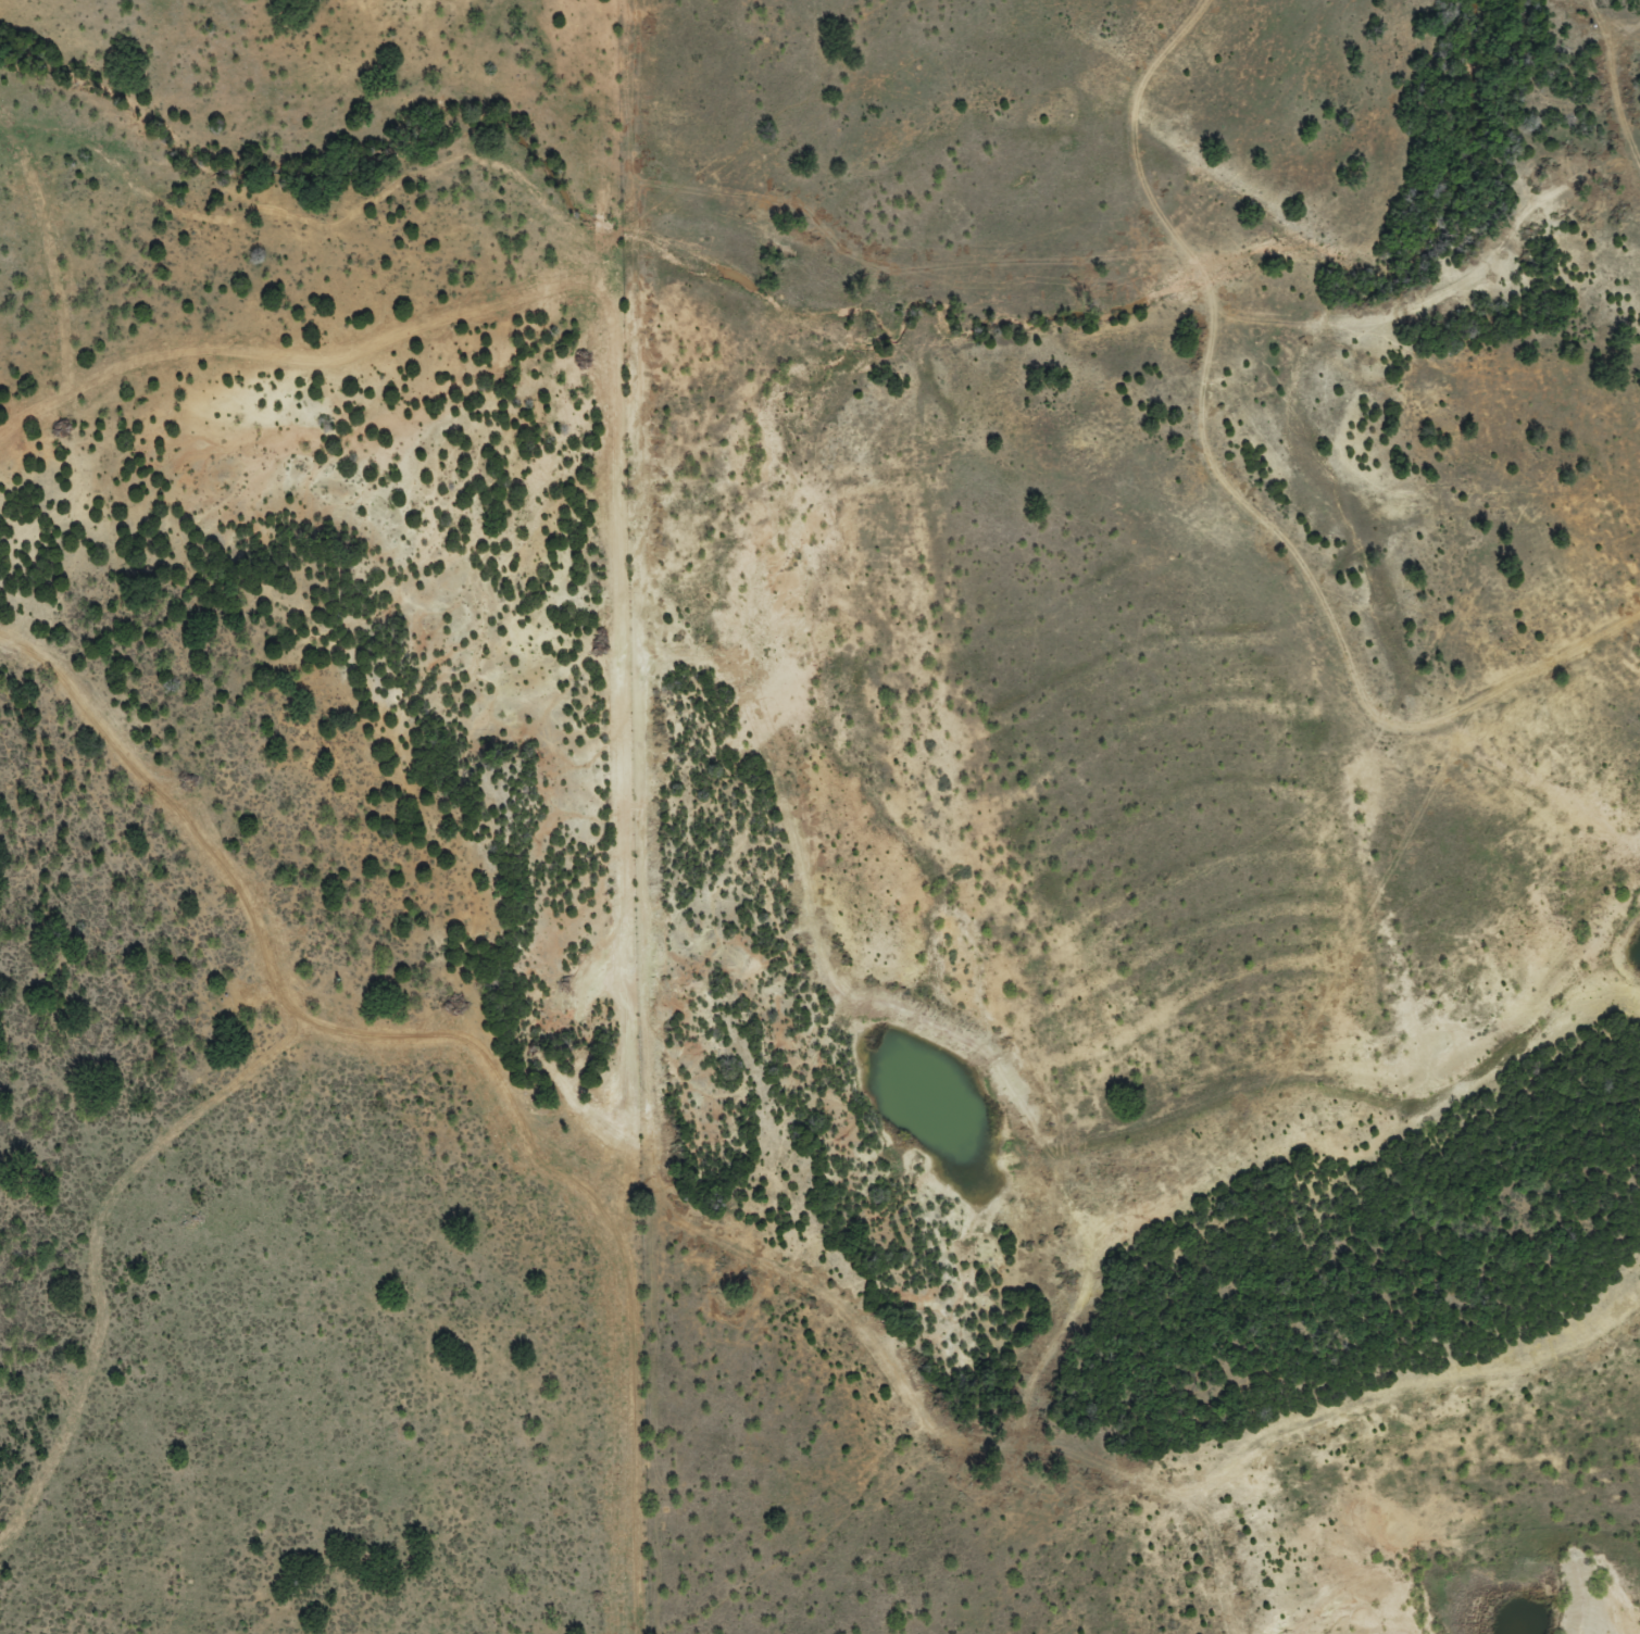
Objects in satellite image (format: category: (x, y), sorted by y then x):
road: (1222, 528)

